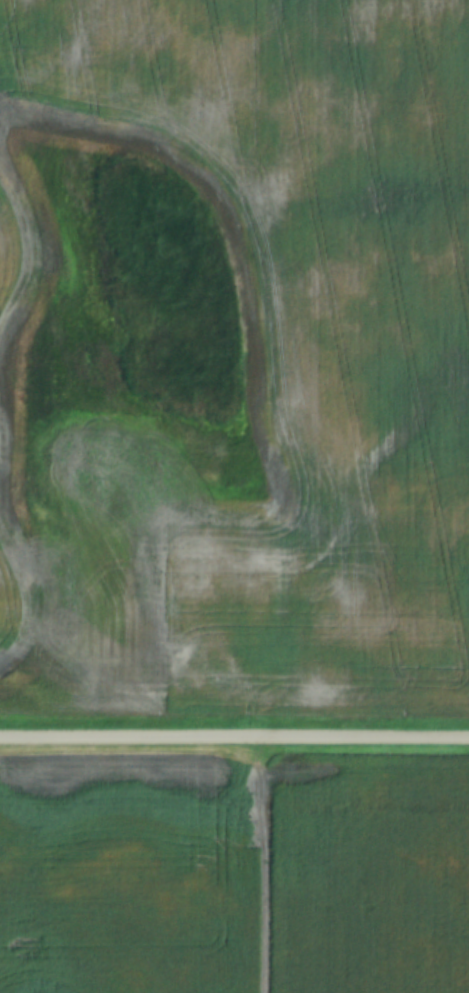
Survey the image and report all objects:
road: (234, 740)

